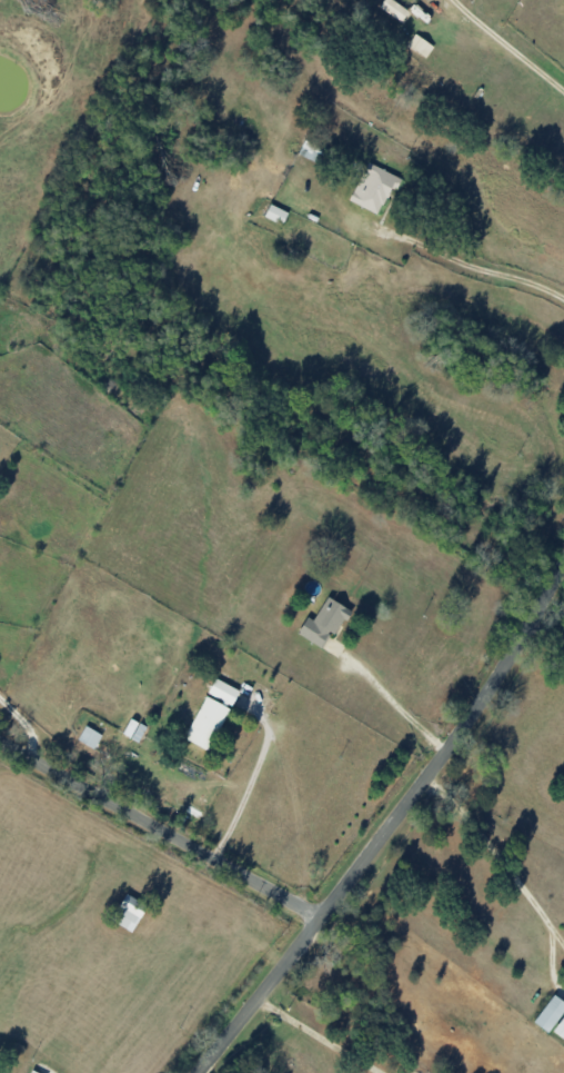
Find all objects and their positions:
building: (394, 9)
road: (501, 53)
building: (373, 188)
building: (276, 213)
road: (481, 268)
building: (324, 623)
road: (548, 629)
road: (392, 708)
building: (211, 714)
road: (27, 735)
building: (90, 737)
road: (249, 797)
road: (389, 826)
road: (158, 839)
road: (497, 856)
building: (550, 1013)
building: (560, 1027)
road: (318, 1033)
building: (33, 1072)

